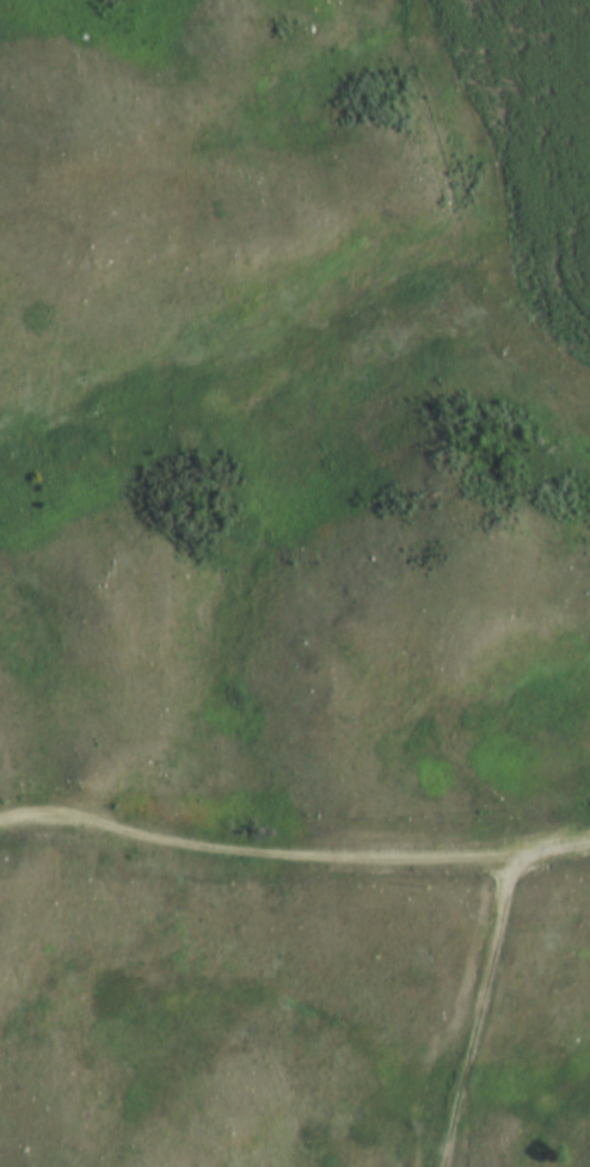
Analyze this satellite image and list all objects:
road: (293, 843)

